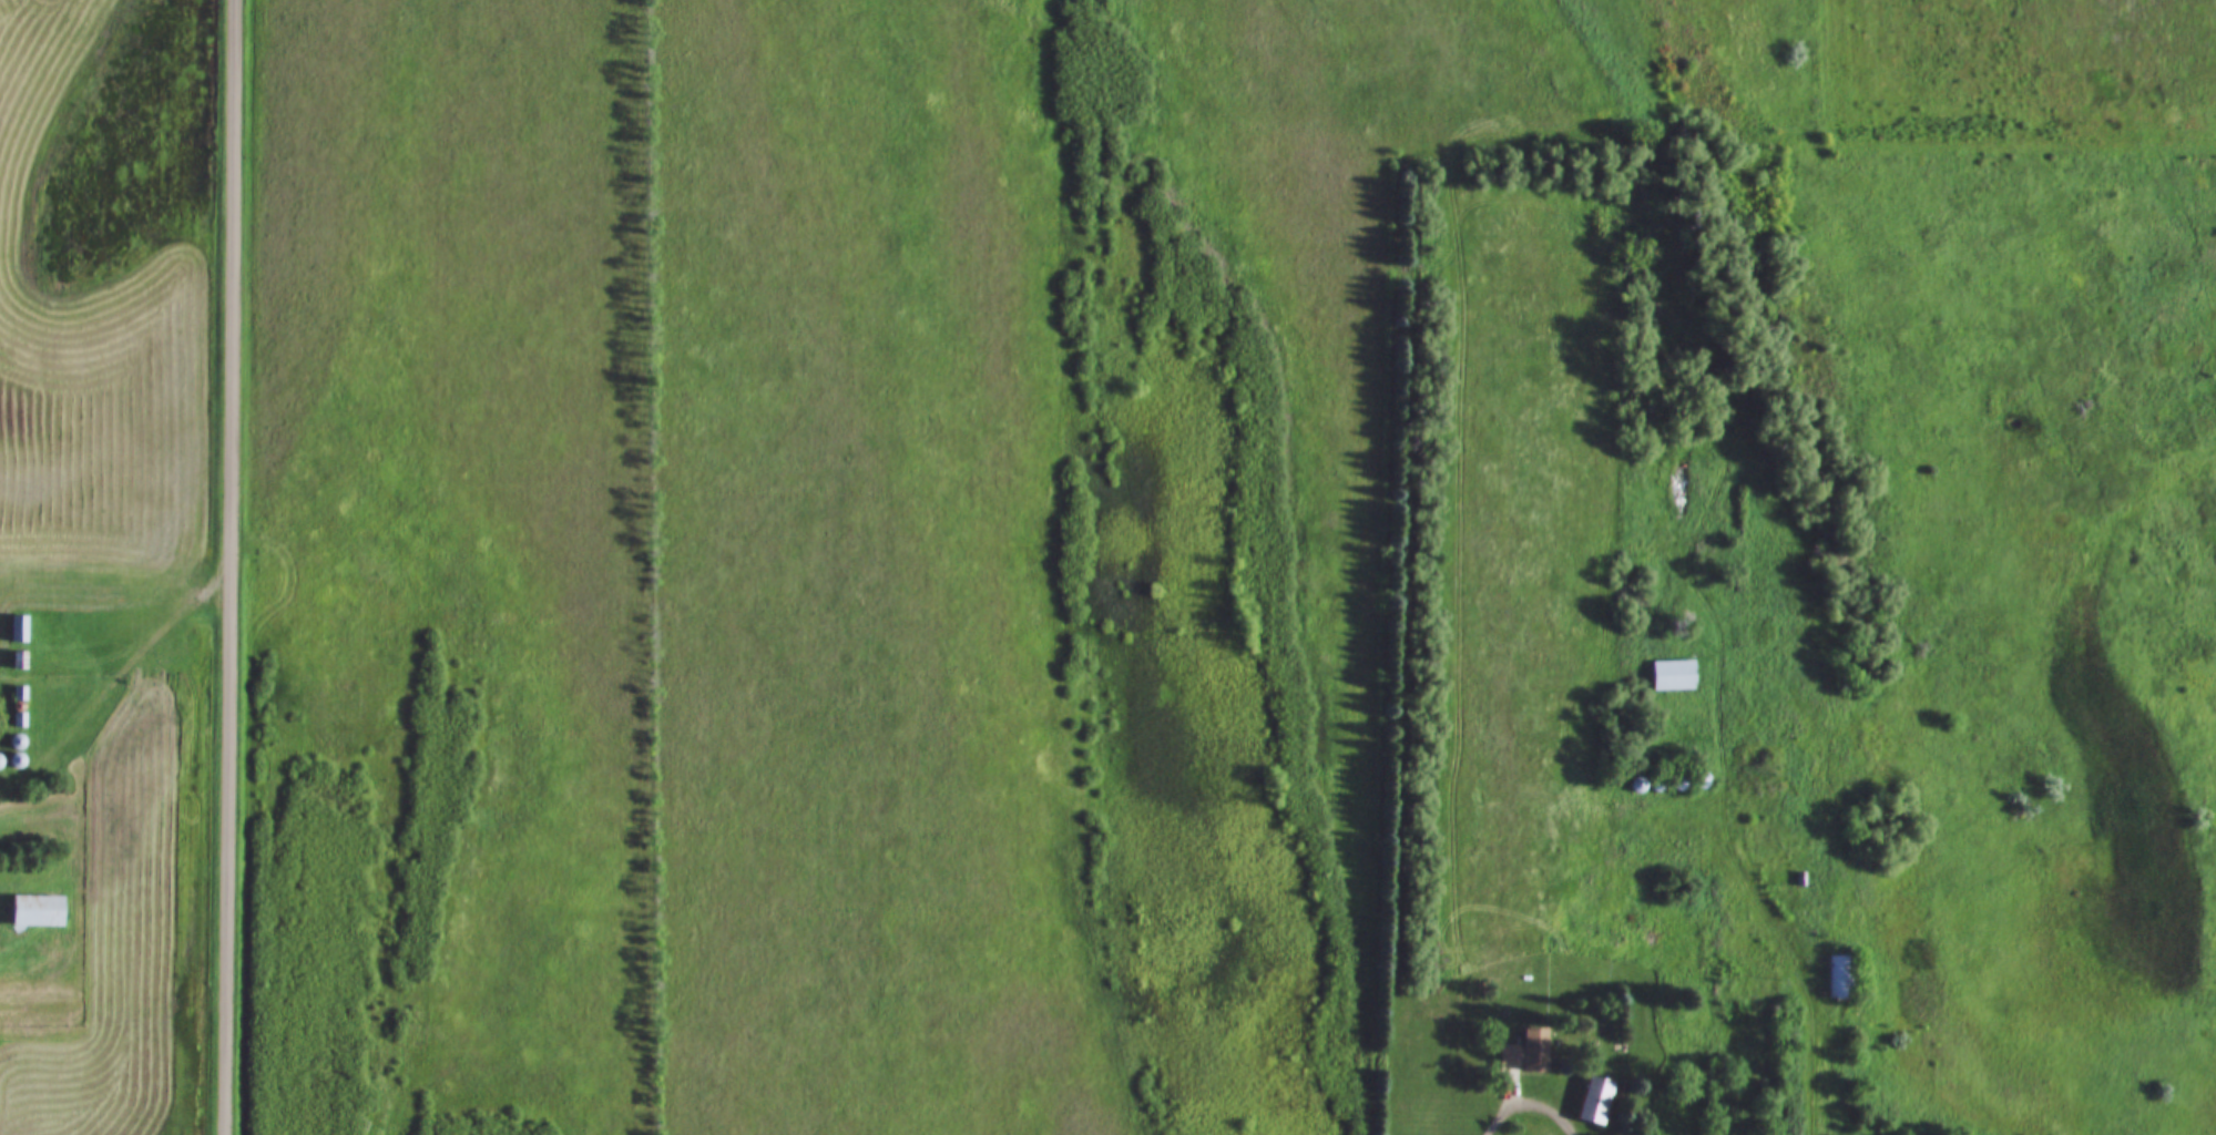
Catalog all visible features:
road: (236, 567)
building: (14, 630)
building: (16, 662)
building: (1671, 675)
road: (118, 679)
building: (17, 696)
building: (17, 722)
building: (12, 743)
building: (12, 763)
building: (1674, 783)
building: (1635, 787)
building: (33, 912)
road: (1806, 972)
building: (1836, 978)
building: (1521, 1057)
road: (1534, 1100)

